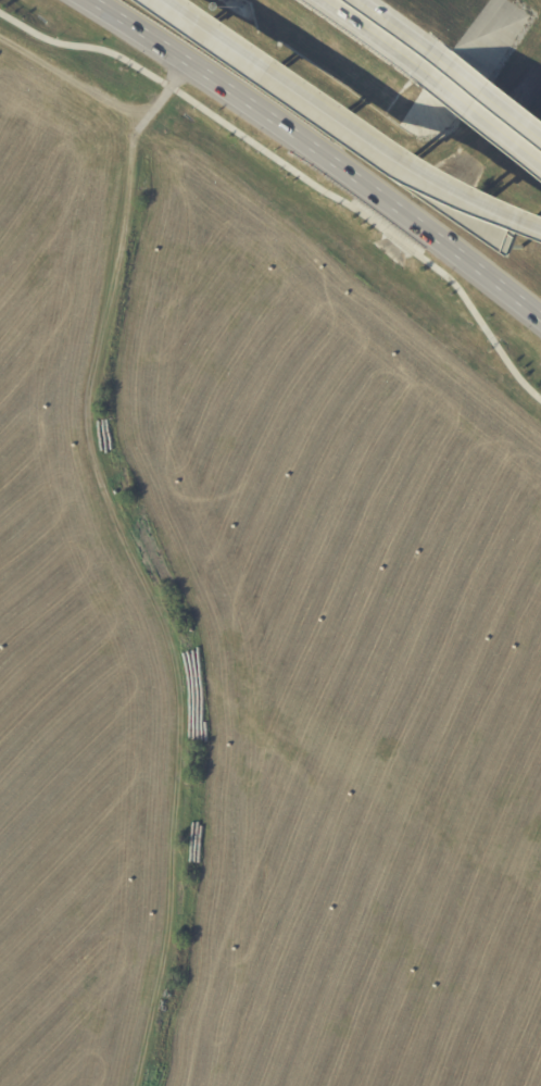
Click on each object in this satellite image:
road: (403, 27)
road: (373, 37)
road: (491, 92)
road: (322, 98)
road: (485, 118)
road: (324, 149)
road: (294, 172)
road: (505, 210)

